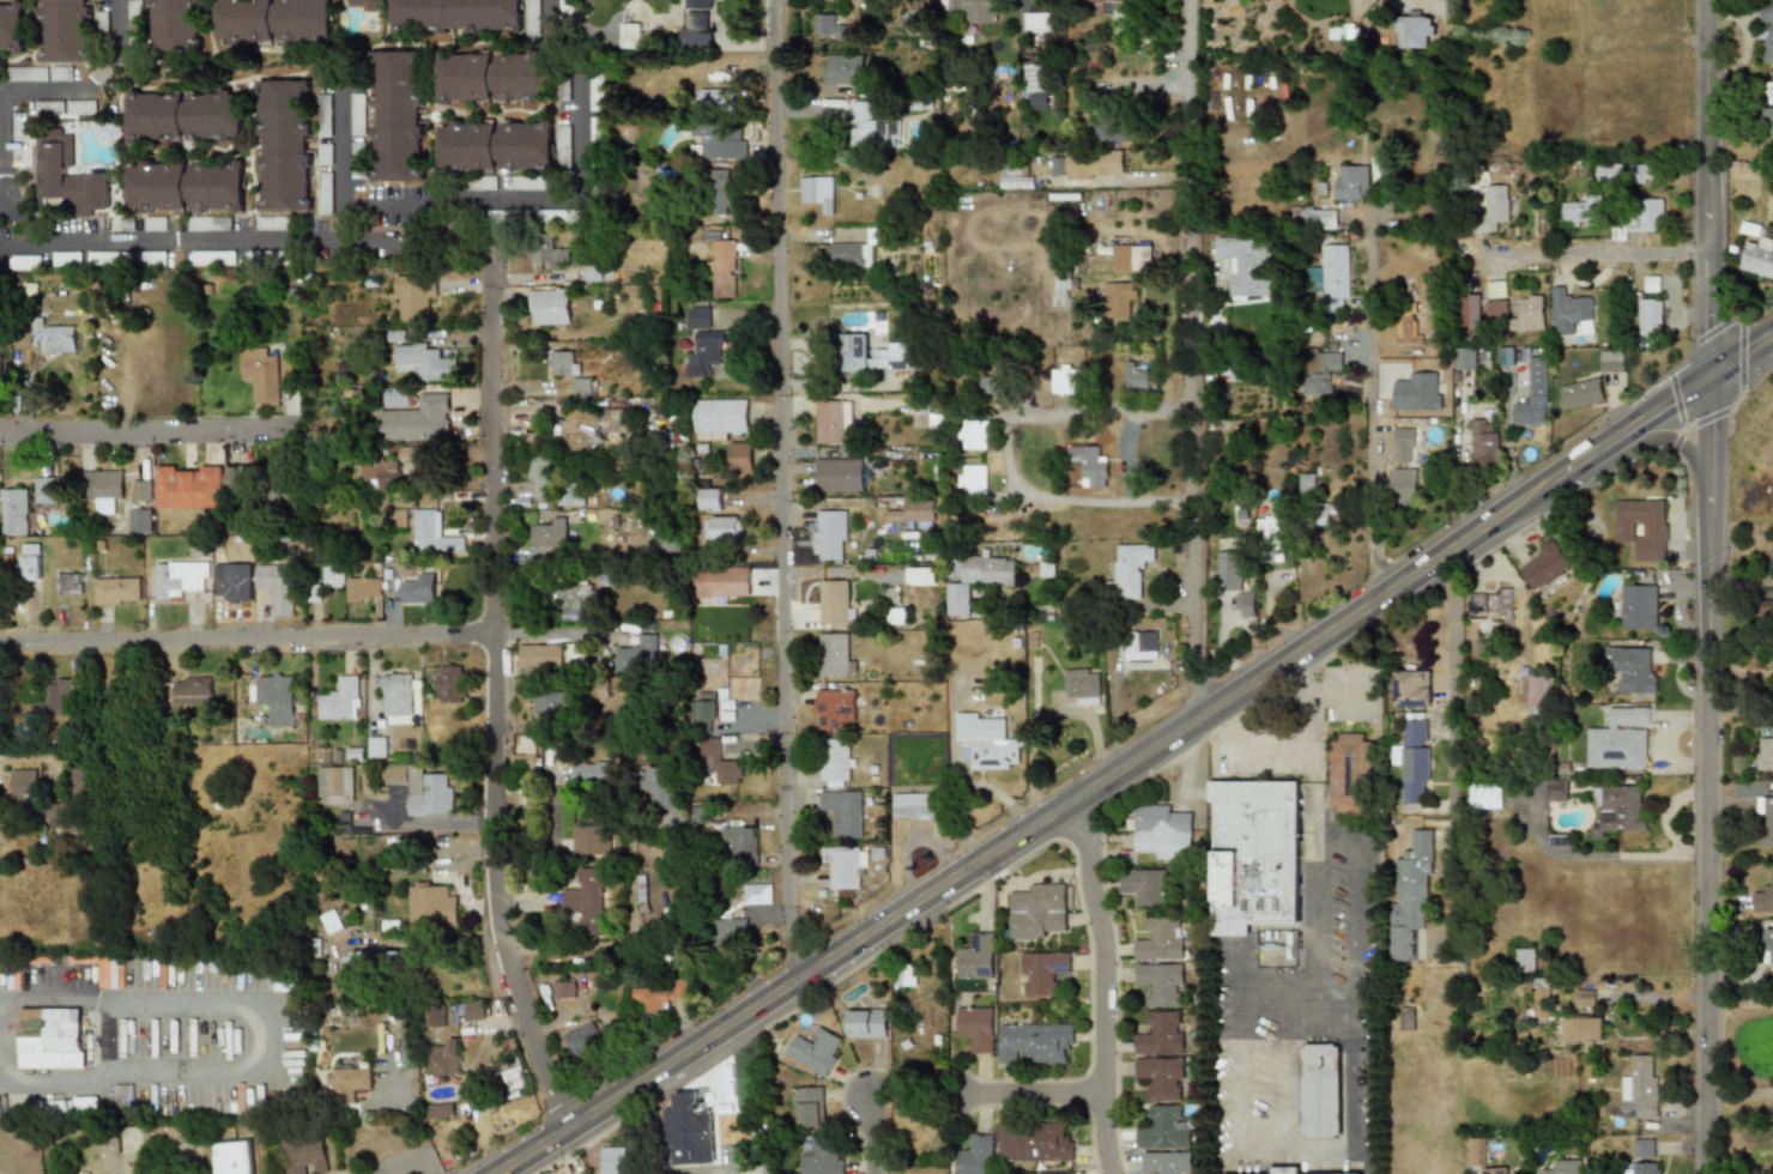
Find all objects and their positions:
road: (1421, 2)
building: (365, 5)
building: (698, 5)
building: (1115, 8)
building: (134, 10)
building: (975, 10)
building: (456, 17)
building: (273, 22)
building: (1043, 23)
building: (176, 25)
building: (12, 26)
building: (831, 28)
building: (66, 30)
building: (1343, 30)
building: (1416, 31)
building: (1766, 34)
building: (631, 35)
building: (696, 38)
building: (845, 68)
road: (1188, 68)
building: (61, 73)
building: (26, 74)
building: (492, 77)
road: (40, 89)
building: (598, 91)
building: (1768, 92)
building: (1041, 96)
building: (718, 99)
building: (184, 116)
building: (397, 116)
building: (1766, 119)
building: (876, 127)
building: (1114, 129)
building: (597, 132)
building: (495, 144)
building: (283, 146)
building: (563, 146)
building: (722, 146)
building: (1089, 164)
road: (340, 167)
building: (1609, 171)
building: (1639, 174)
building: (68, 177)
building: (1017, 177)
building: (1353, 183)
building: (186, 187)
road: (1702, 187)
building: (718, 190)
building: (817, 192)
road: (561, 200)
road: (4, 206)
building: (1493, 208)
building: (1581, 210)
building: (1651, 214)
building: (1320, 218)
road: (458, 222)
building: (207, 223)
building: (272, 223)
road: (20, 224)
building: (884, 235)
road: (405, 240)
road: (480, 240)
road: (186, 243)
road: (17, 246)
building: (547, 252)
building: (849, 254)
road: (1587, 255)
building: (1757, 258)
building: (1133, 259)
building: (721, 266)
building: (1247, 267)
building: (592, 272)
building: (1336, 277)
building: (1651, 284)
building: (1495, 289)
building: (1060, 290)
building: (413, 297)
building: (1118, 299)
building: (549, 307)
building: (1569, 308)
building: (1496, 309)
building: (1470, 311)
building: (1406, 314)
building: (1527, 315)
building: (697, 317)
building: (1650, 322)
building: (58, 337)
building: (852, 352)
road: (1739, 352)
building: (704, 353)
building: (1505, 356)
building: (1465, 358)
building: (424, 361)
building: (890, 361)
building: (1611, 361)
building: (561, 363)
building: (1, 365)
building: (1321, 368)
building: (268, 371)
building: (1134, 377)
road: (1369, 379)
building: (1066, 383)
building: (579, 385)
building: (1532, 393)
building: (1581, 393)
road: (1670, 401)
building: (918, 405)
building: (413, 416)
building: (719, 418)
road: (1190, 422)
building: (833, 423)
road: (1707, 423)
building: (589, 424)
road: (141, 430)
building: (973, 434)
road: (1676, 441)
building: (1404, 442)
building: (1483, 442)
road: (1005, 448)
building: (412, 453)
road: (1125, 455)
building: (739, 458)
building: (1089, 465)
building: (381, 472)
building: (539, 476)
building: (837, 476)
building: (237, 478)
building: (973, 478)
building: (1305, 483)
building: (1403, 485)
building: (188, 486)
building: (282, 486)
road: (781, 486)
building: (103, 488)
building: (141, 490)
building: (47, 492)
building: (709, 500)
building: (14, 512)
building: (913, 512)
building: (140, 520)
building: (428, 528)
building: (719, 528)
building: (1641, 528)
building: (550, 534)
building: (831, 535)
building: (1269, 539)
building: (1543, 565)
building: (30, 567)
building: (1130, 569)
building: (1229, 570)
building: (333, 575)
building: (922, 576)
building: (177, 579)
building: (976, 581)
building: (68, 582)
building: (232, 582)
building: (720, 586)
building: (276, 588)
building: (364, 588)
building: (419, 588)
building: (116, 591)
building: (574, 603)
building: (835, 603)
building: (1245, 604)
road: (1095, 606)
building: (1638, 607)
building: (1488, 616)
road: (553, 634)
road: (246, 636)
building: (1139, 646)
building: (636, 654)
building: (540, 655)
building: (574, 655)
building: (836, 655)
road: (1739, 665)
building: (1630, 668)
road: (494, 682)
building: (449, 683)
building: (1082, 686)
building: (1412, 688)
building: (192, 689)
building: (1537, 691)
building: (58, 694)
building: (399, 695)
building: (277, 697)
building: (1640, 697)
road: (1314, 698)
building: (340, 701)
building: (550, 706)
building: (835, 709)
road: (1451, 727)
building: (26, 728)
building: (1618, 740)
building: (985, 743)
building: (376, 746)
building: (525, 750)
road: (56, 754)
building: (1765, 754)
building: (1412, 761)
building: (835, 762)
building: (724, 768)
building: (592, 771)
building: (1349, 774)
building: (80, 781)
building: (658, 785)
building: (24, 786)
building: (335, 786)
building: (420, 787)
building: (1556, 789)
building: (1485, 795)
building: (913, 806)
road: (1053, 807)
building: (1620, 810)
building: (843, 812)
building: (1767, 821)
road: (1704, 823)
building: (1161, 833)
building: (591, 840)
building: (742, 842)
building: (1254, 854)
building: (845, 867)
building: (1143, 886)
building: (757, 894)
building: (1410, 895)
building: (1763, 896)
building: (588, 898)
building: (431, 904)
building: (1036, 912)
building: (733, 913)
building: (333, 921)
building: (1161, 938)
road: (622, 942)
building: (1767, 946)
building: (976, 956)
building: (1524, 961)
building: (374, 963)
building: (1042, 972)
building: (904, 976)
building: (286, 982)
road: (1106, 982)
building: (1158, 982)
road: (1309, 987)
building: (564, 990)
building: (659, 994)
building: (1584, 998)
road: (1737, 1000)
building: (472, 1010)
building: (435, 1016)
building: (1405, 1017)
building: (866, 1022)
building: (975, 1028)
building: (1581, 1030)
building: (1162, 1033)
building: (52, 1037)
road: (260, 1037)
building: (583, 1040)
building: (1033, 1041)
building: (813, 1052)
road: (1242, 1053)
building: (442, 1058)
building: (513, 1073)
building: (1161, 1077)
building: (745, 1078)
building: (353, 1082)
building: (1319, 1090)
road: (1013, 1091)
building: (1640, 1091)
road: (1737, 1094)
building: (123, 1100)
building: (86, 1105)
building: (809, 1107)
building: (438, 1109)
building: (1164, 1128)
building: (689, 1130)
building: (1034, 1142)
road: (872, 1144)
building: (1644, 1148)
building: (1475, 1152)
building: (305, 1154)
road: (1306, 1154)
building: (975, 1155)
building: (819, 1156)
building: (232, 1157)
building: (613, 1160)
building: (1168, 1162)
building: (1566, 1167)
building: (1646, 1168)
building: (1283, 1169)
building: (1494, 1170)

